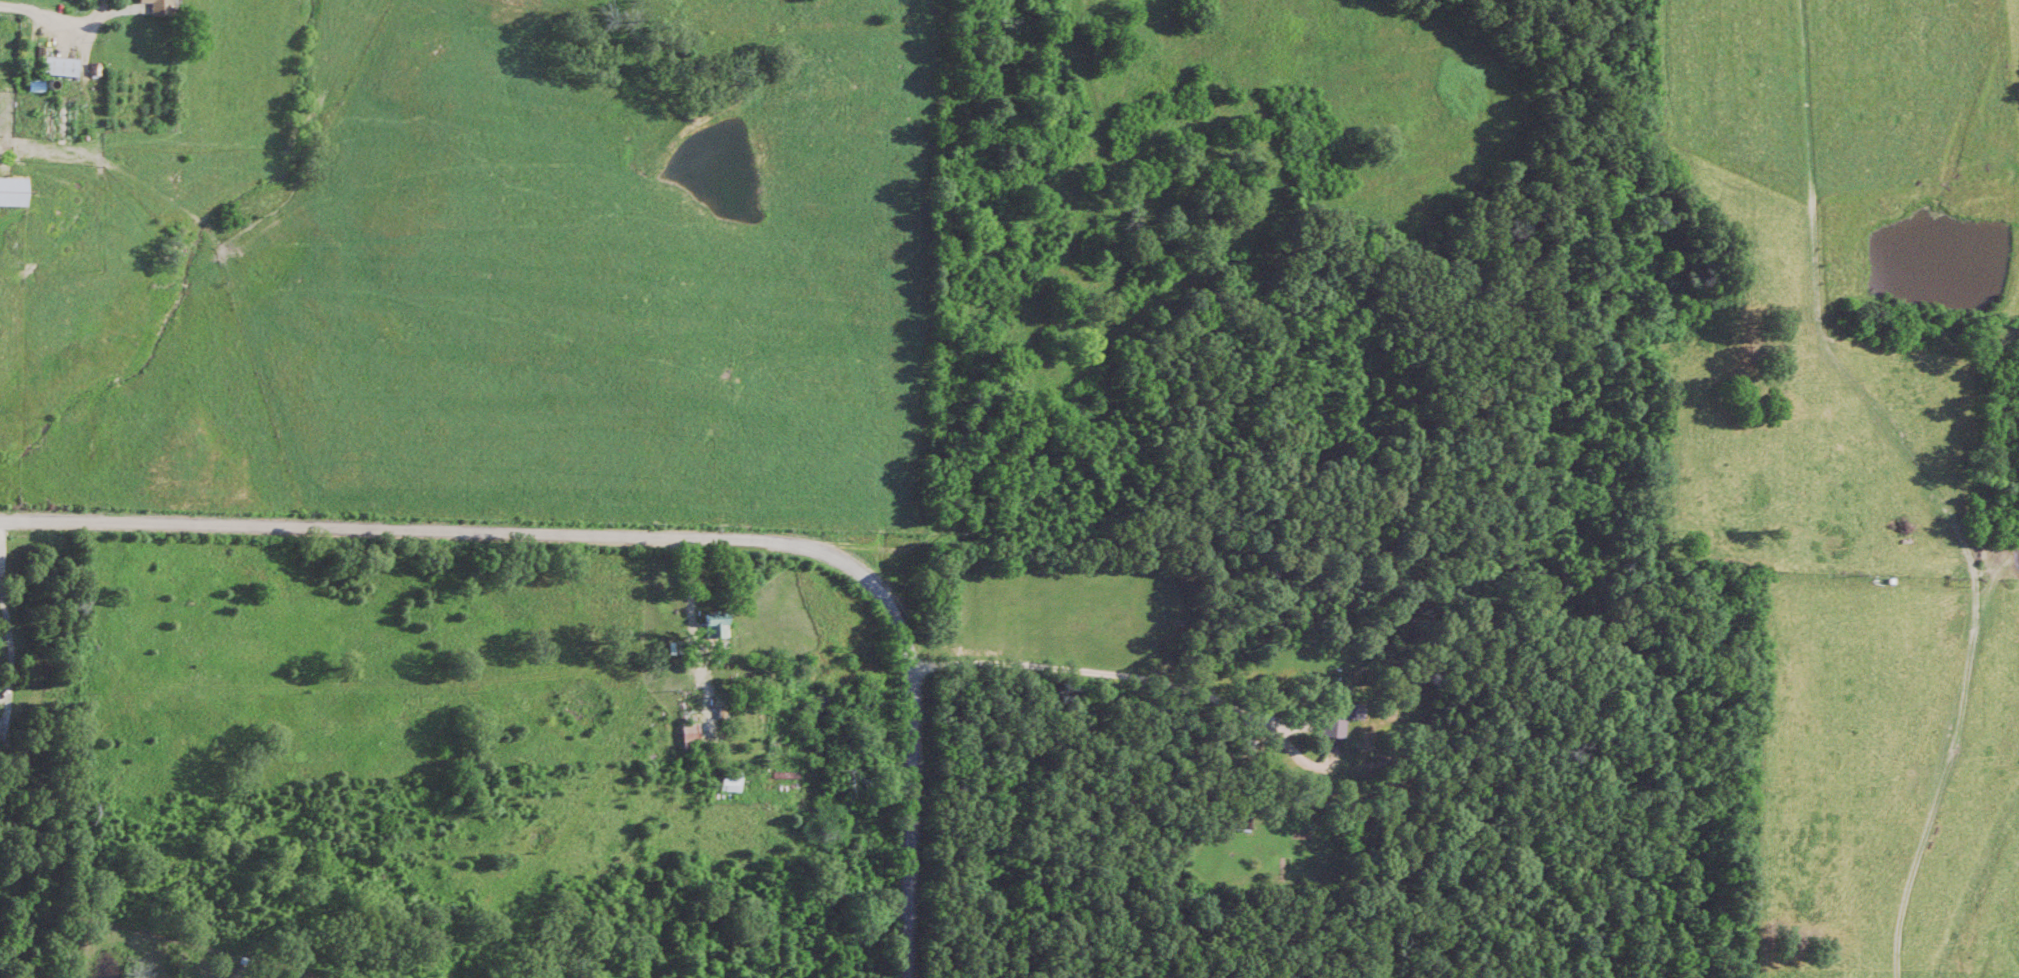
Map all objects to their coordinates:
building: (159, 9)
road: (38, 13)
building: (62, 71)
building: (36, 88)
building: (14, 195)
road: (643, 534)
road: (1087, 580)
building: (717, 629)
building: (692, 738)
building: (732, 785)

